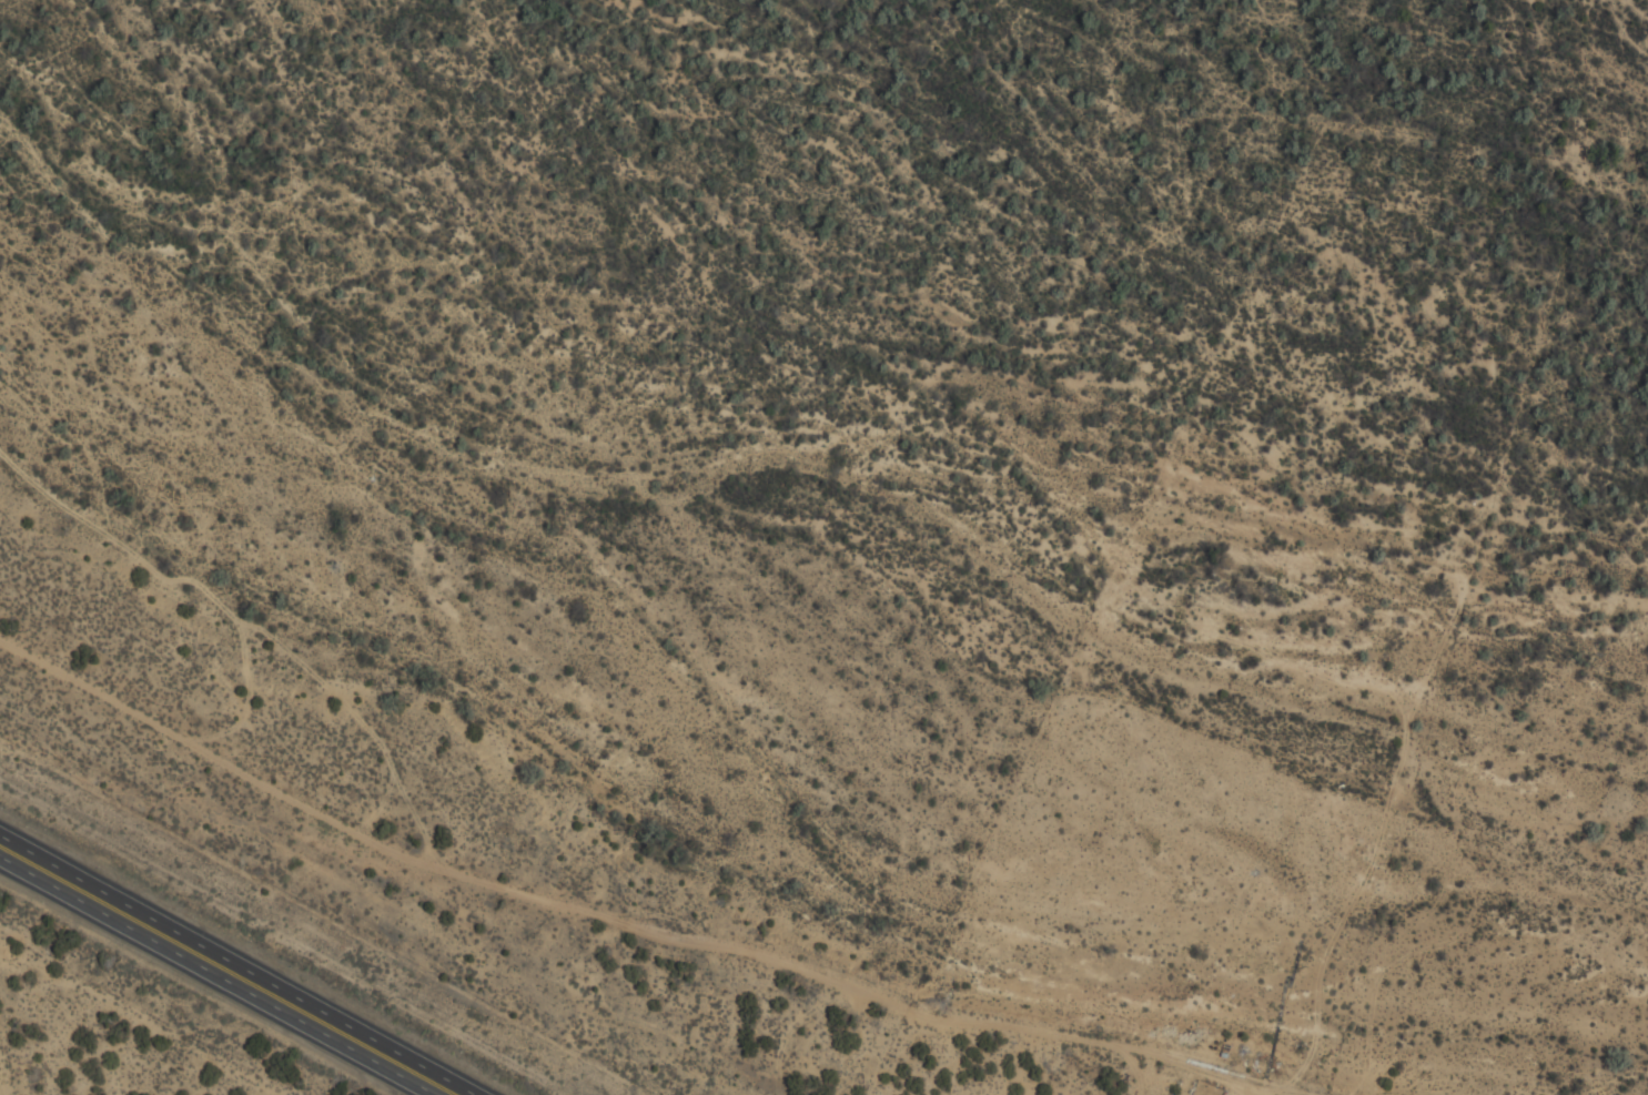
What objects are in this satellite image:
road: (234, 966)
road: (213, 977)
road: (2, 1087)

